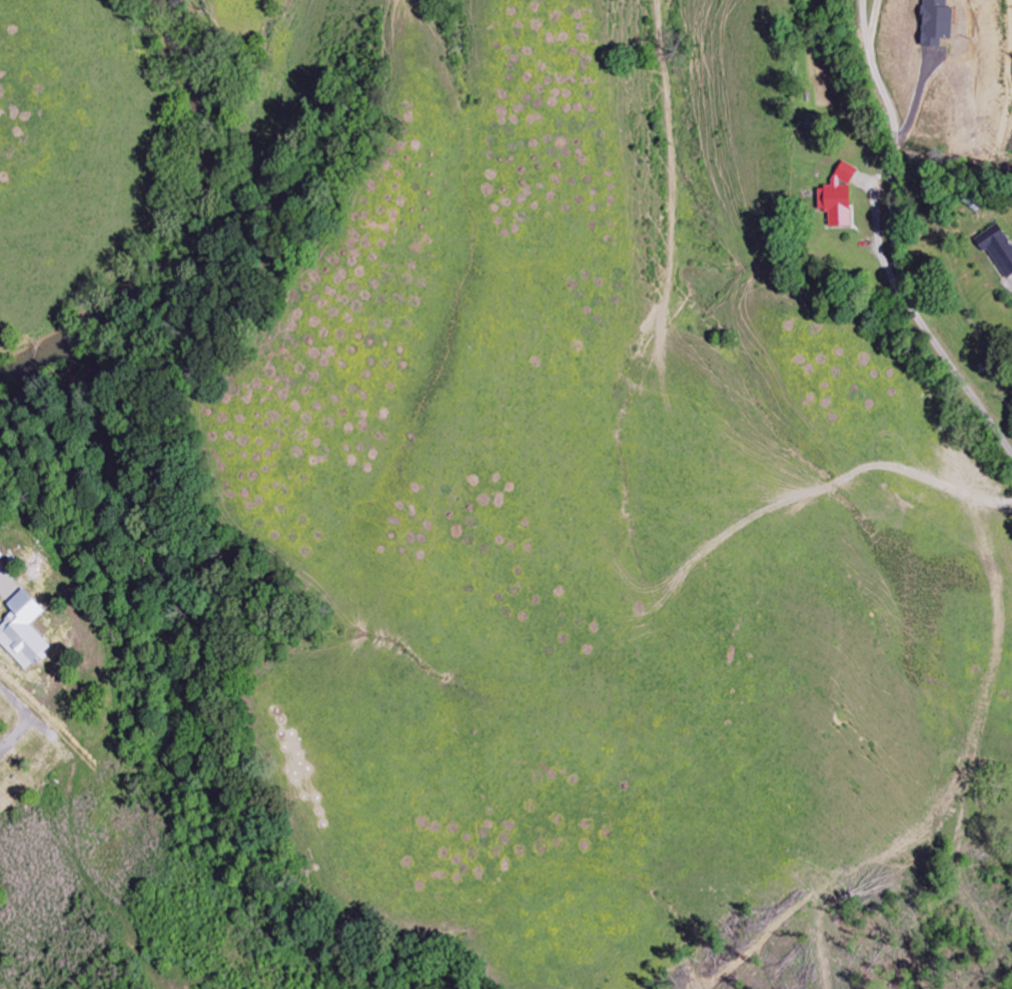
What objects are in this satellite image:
building: (935, 23)
building: (838, 197)
building: (997, 249)
road: (924, 325)
building: (24, 631)

